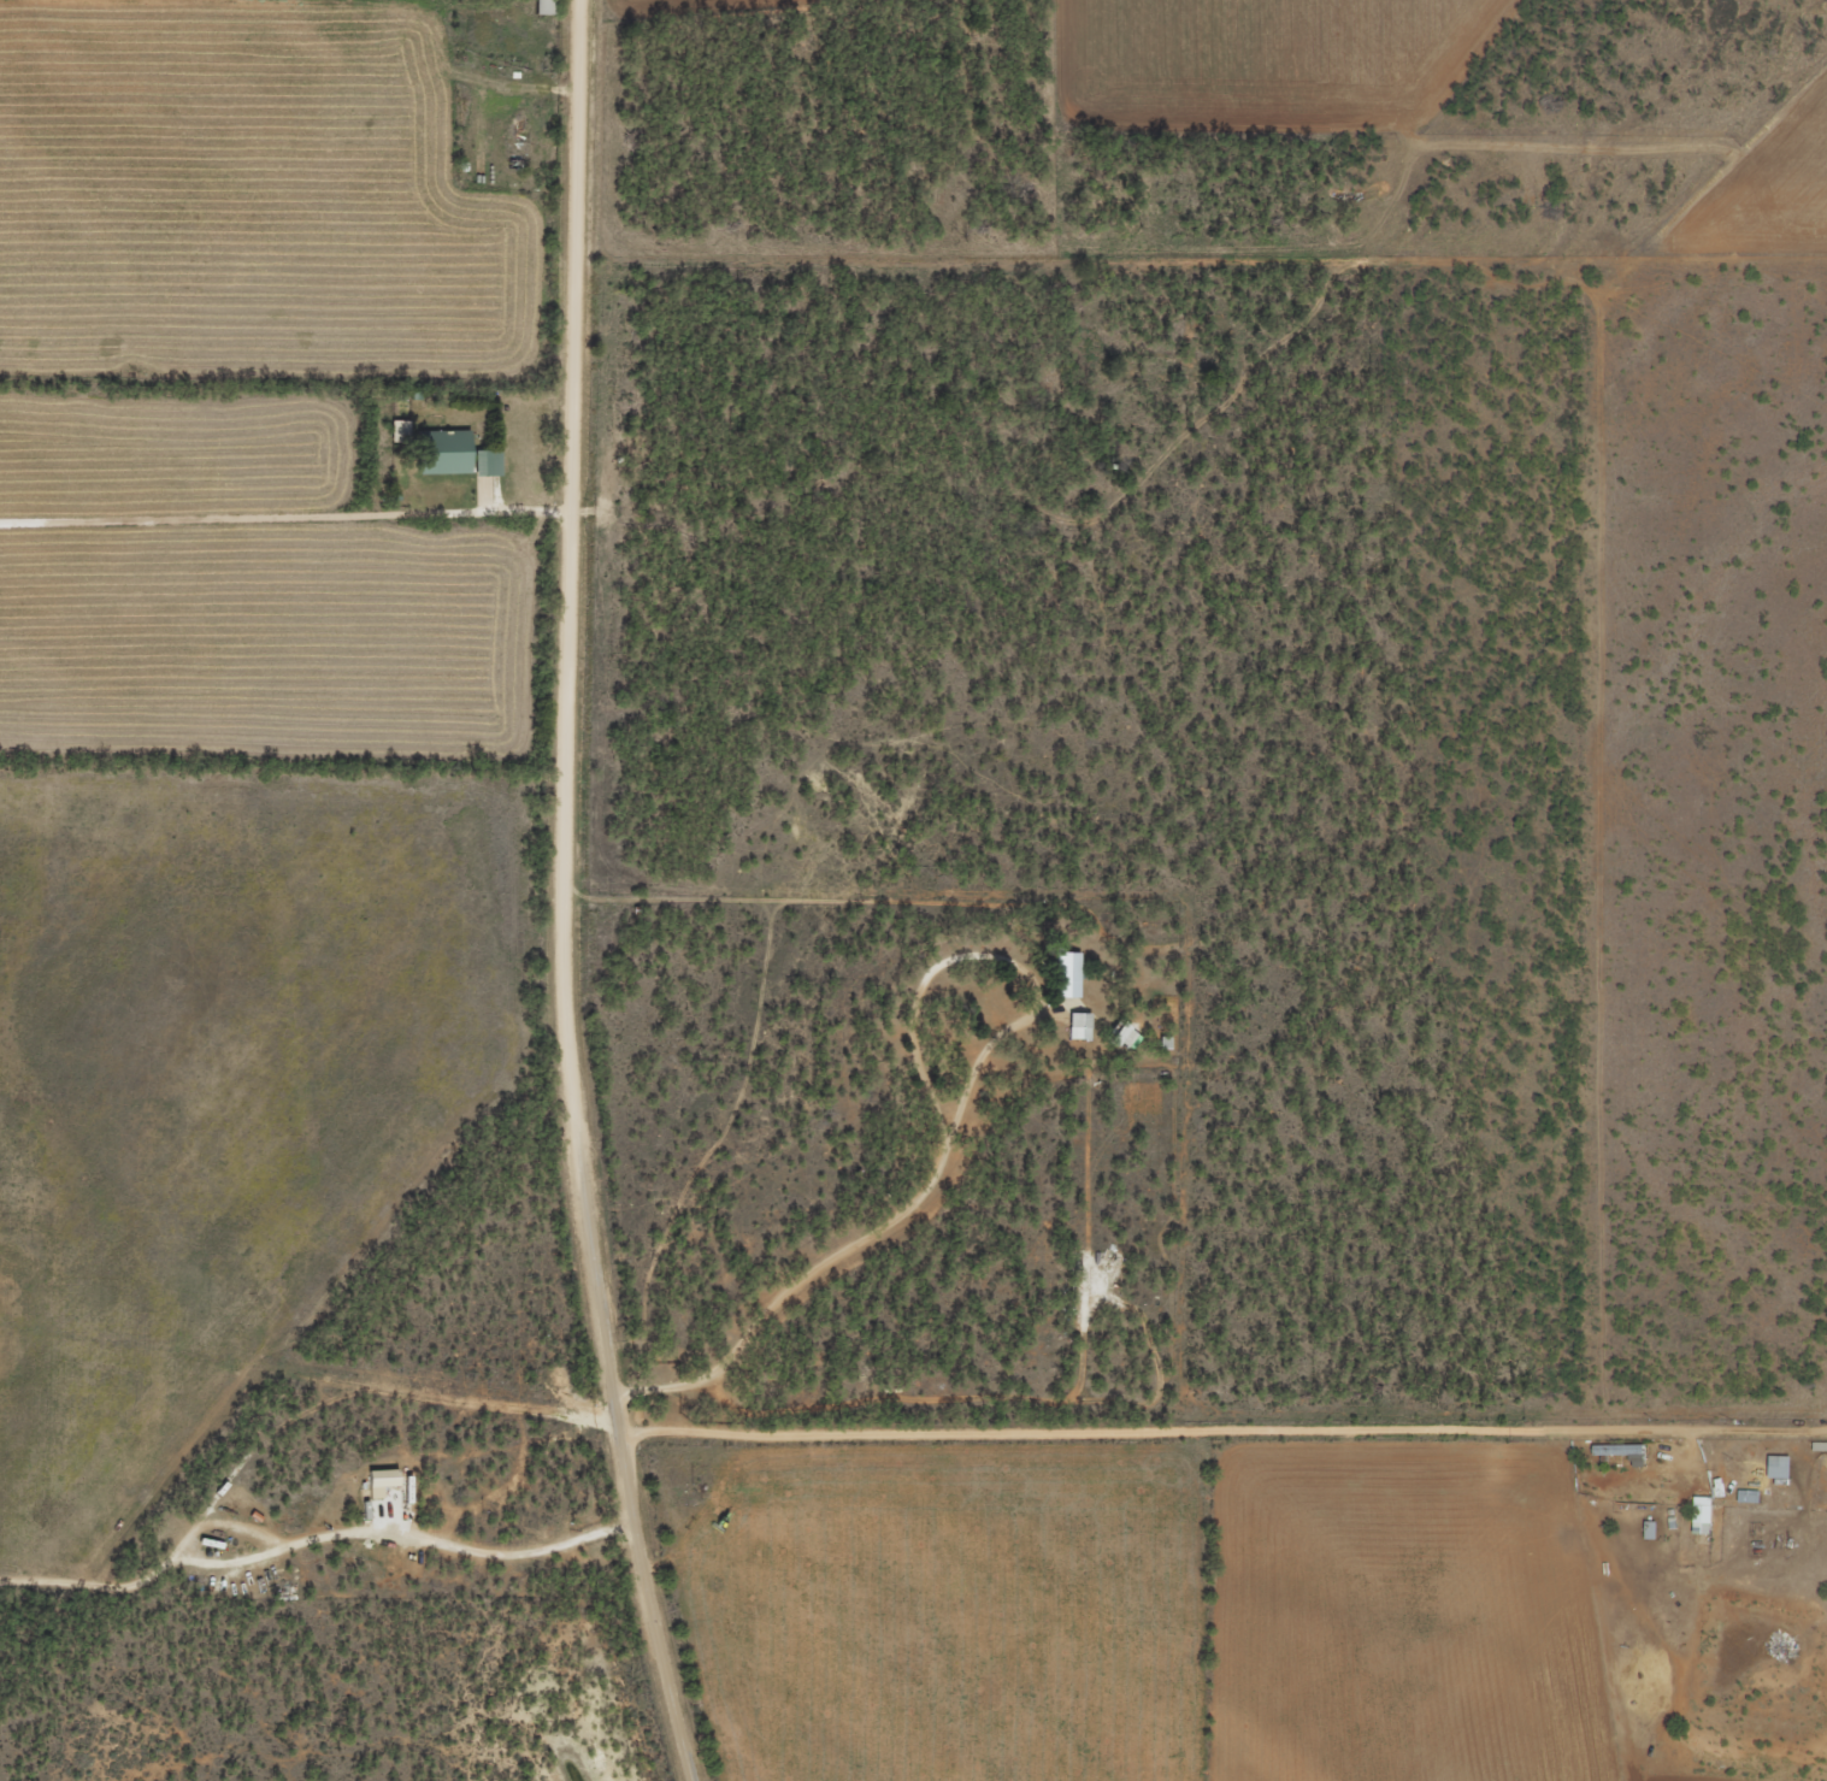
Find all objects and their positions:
building: (403, 430)
building: (462, 454)
road: (555, 892)
building: (1073, 974)
building: (1083, 1025)
building: (1130, 1037)
road: (1145, 1054)
road: (1212, 1423)
building: (1626, 1451)
building: (1787, 1468)
building: (385, 1480)
building: (1755, 1497)
building: (1709, 1516)
building: (1658, 1532)

